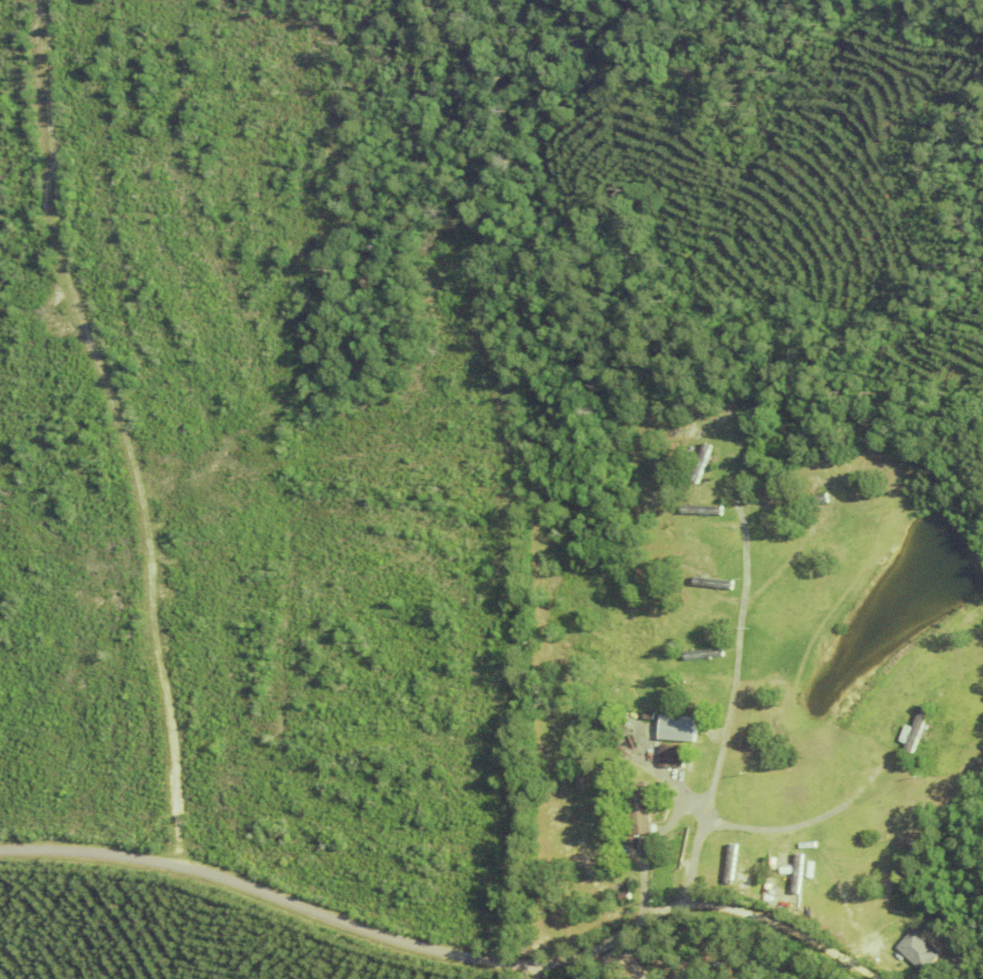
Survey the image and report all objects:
building: (701, 508)
building: (659, 703)
building: (648, 715)
building: (678, 728)
building: (917, 728)
building: (672, 755)
building: (689, 760)
building: (695, 777)
building: (640, 807)
building: (731, 863)
building: (798, 869)
building: (625, 895)
road: (347, 925)
road: (783, 931)
building: (919, 950)

